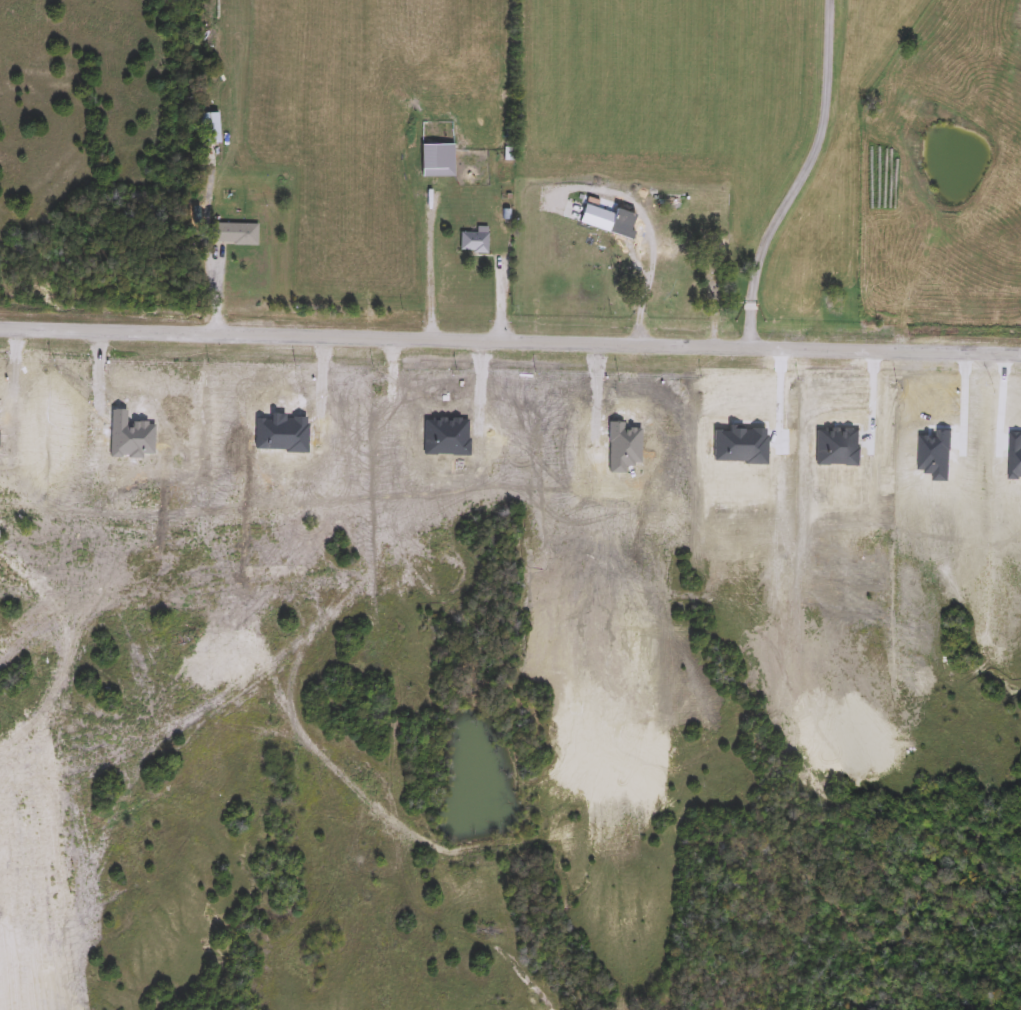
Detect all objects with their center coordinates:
building: (211, 128)
road: (802, 177)
building: (435, 179)
building: (597, 217)
road: (649, 229)
building: (237, 233)
building: (474, 242)
road: (422, 271)
building: (659, 281)
road: (510, 340)
road: (98, 376)
road: (14, 381)

